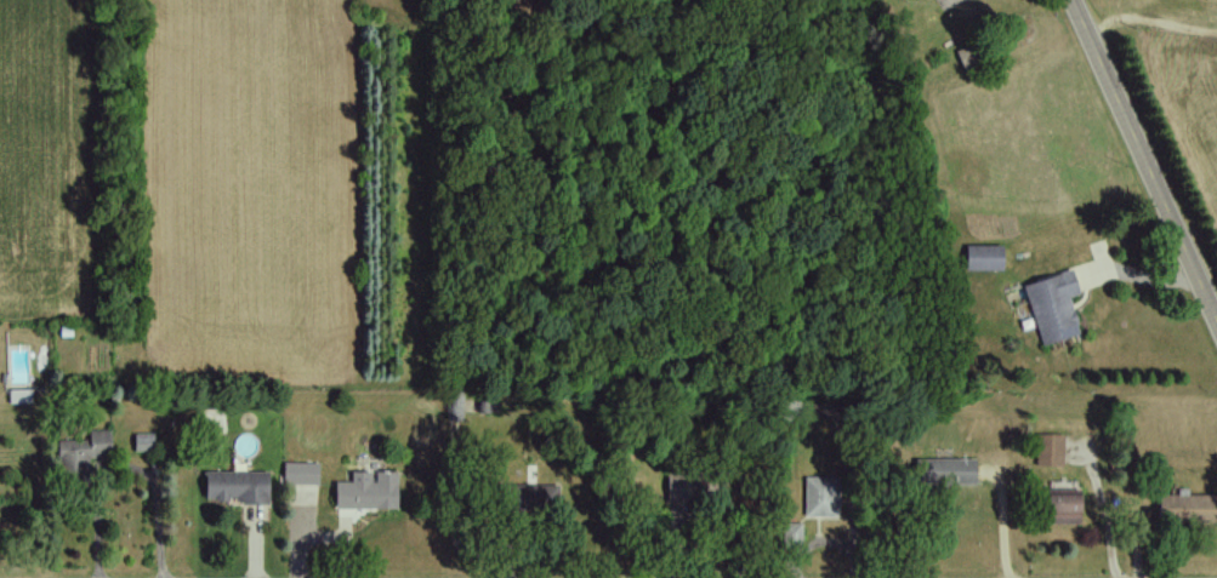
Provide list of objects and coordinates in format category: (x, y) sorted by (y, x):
road: (1145, 160)
building: (980, 258)
building: (1050, 308)
building: (1047, 451)
building: (79, 454)
road: (120, 464)
building: (942, 473)
building: (297, 474)
building: (233, 487)
building: (364, 492)
building: (524, 497)
building: (818, 497)
building: (1058, 507)
building: (1184, 509)
building: (790, 536)

